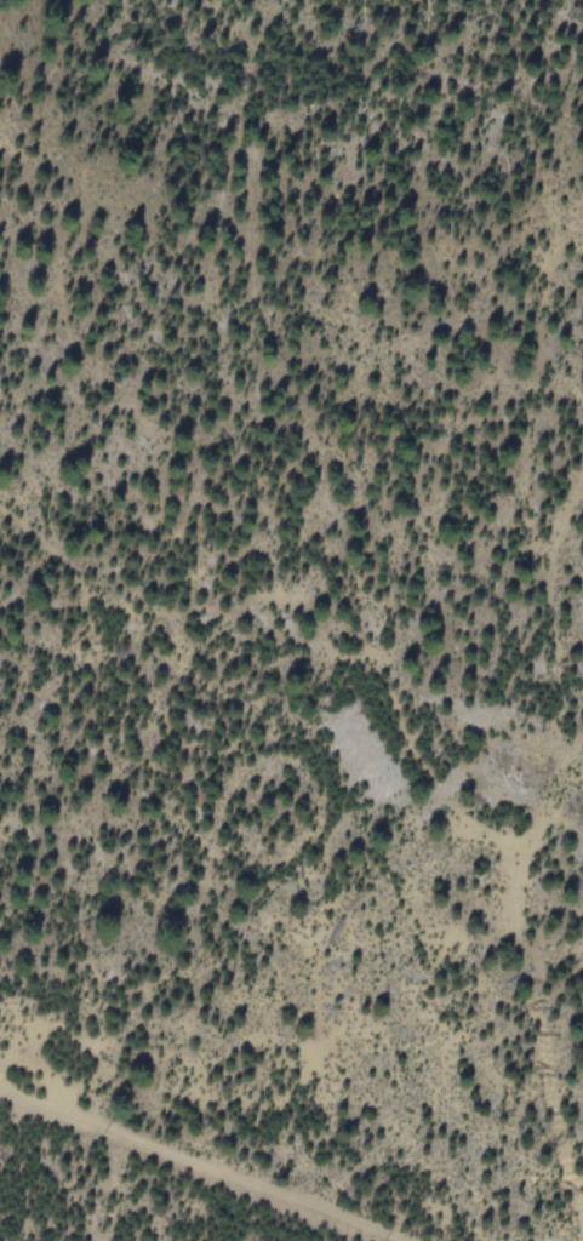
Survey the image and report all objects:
road: (528, 965)
road: (196, 1163)

